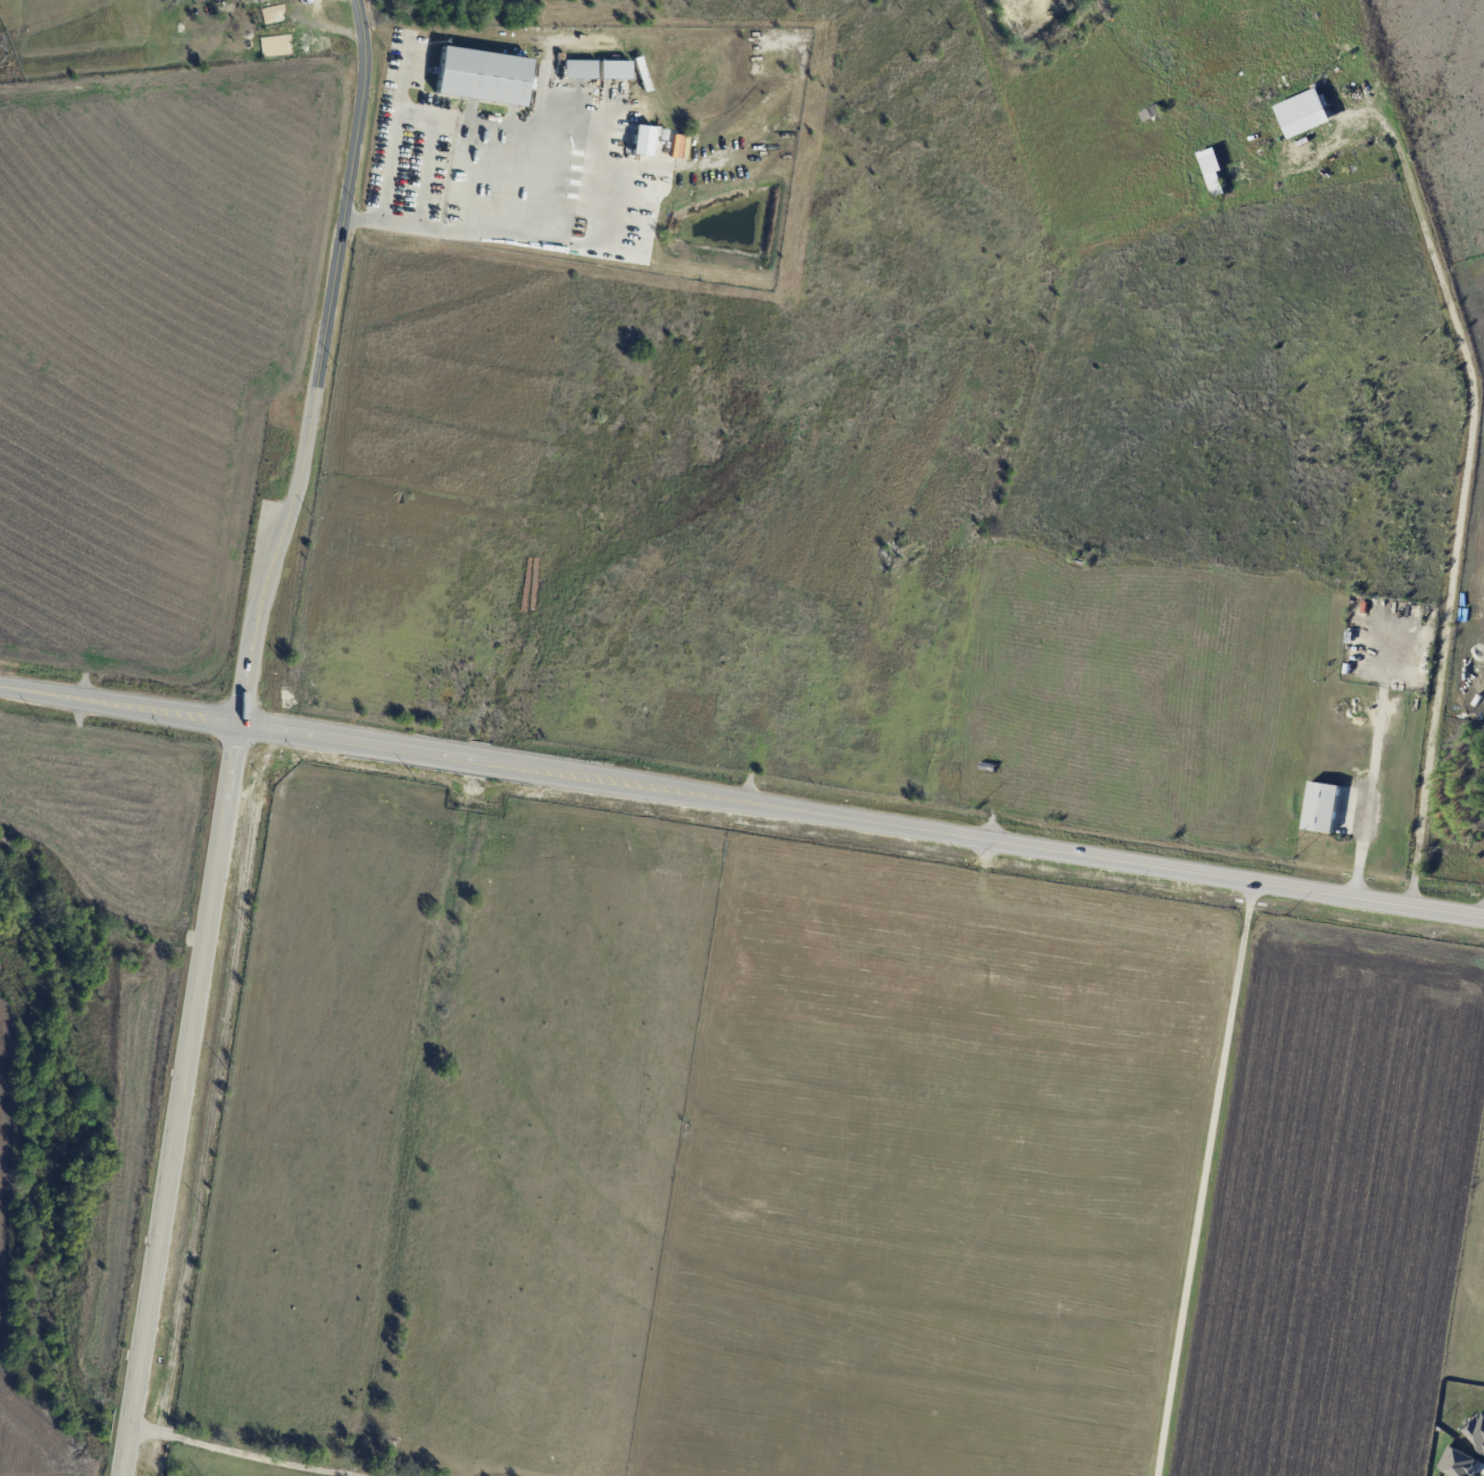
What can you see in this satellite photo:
road: (330, 29)
building: (579, 68)
building: (614, 69)
building: (482, 75)
building: (1303, 112)
road: (451, 117)
road: (511, 124)
road: (396, 129)
building: (641, 139)
road: (429, 151)
building: (1212, 170)
road: (504, 176)
road: (609, 216)
road: (514, 233)
road: (319, 364)
road: (742, 801)
building: (1321, 806)
road: (1359, 845)
road: (1483, 915)
road: (179, 1099)
road: (1205, 1179)
building: (1476, 1429)
road: (243, 1453)
building: (1458, 1462)

